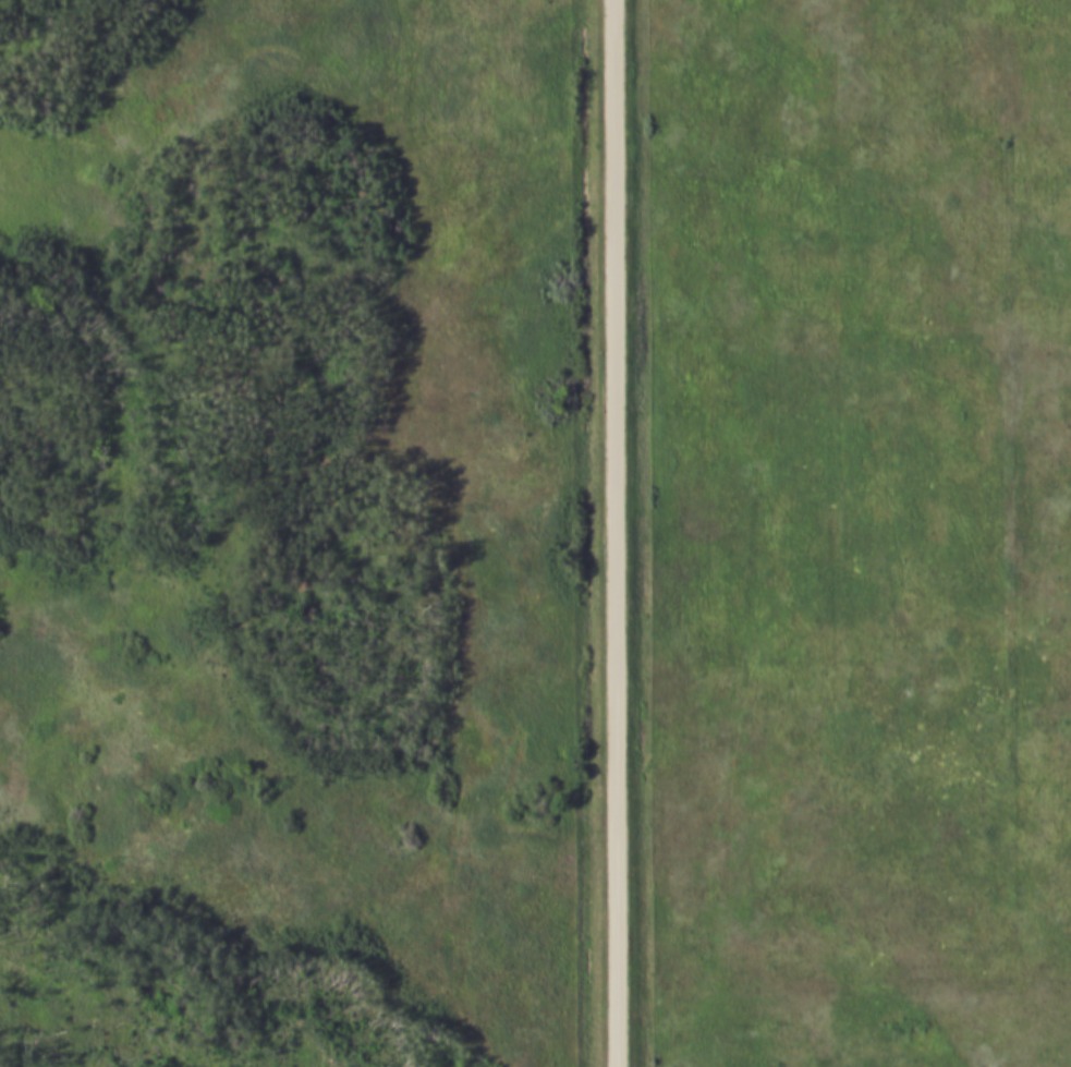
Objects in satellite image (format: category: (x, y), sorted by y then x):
road: (612, 533)

